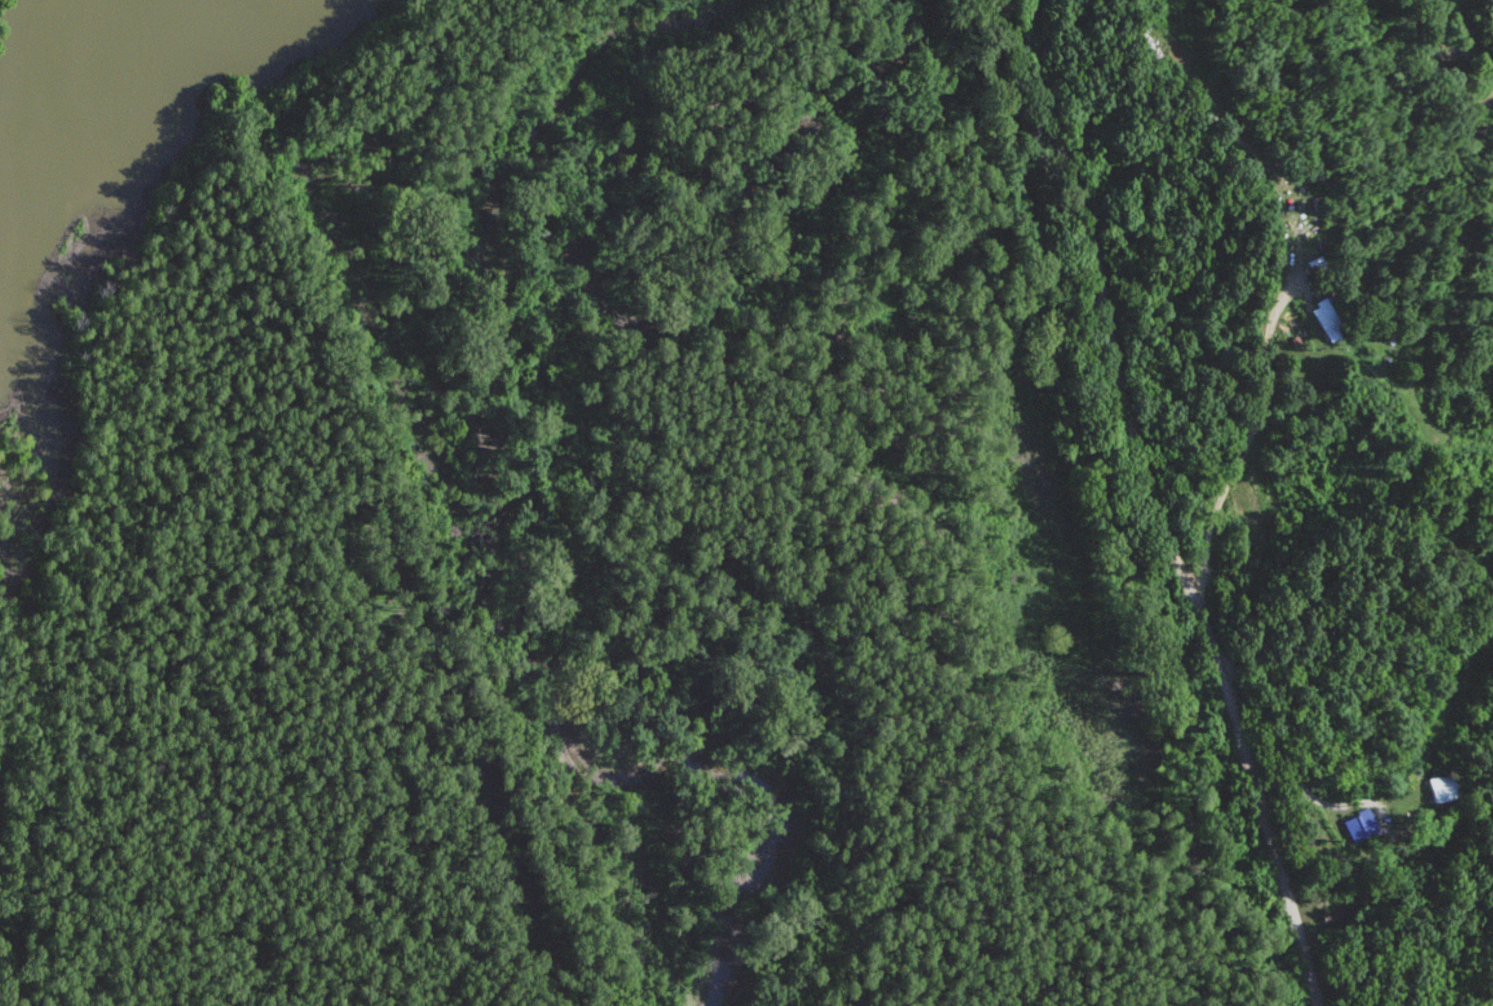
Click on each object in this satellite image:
road: (1275, 310)
building: (1328, 315)
road: (1379, 386)
road: (1150, 507)
building: (1443, 789)
road: (1317, 801)
building: (1358, 826)

